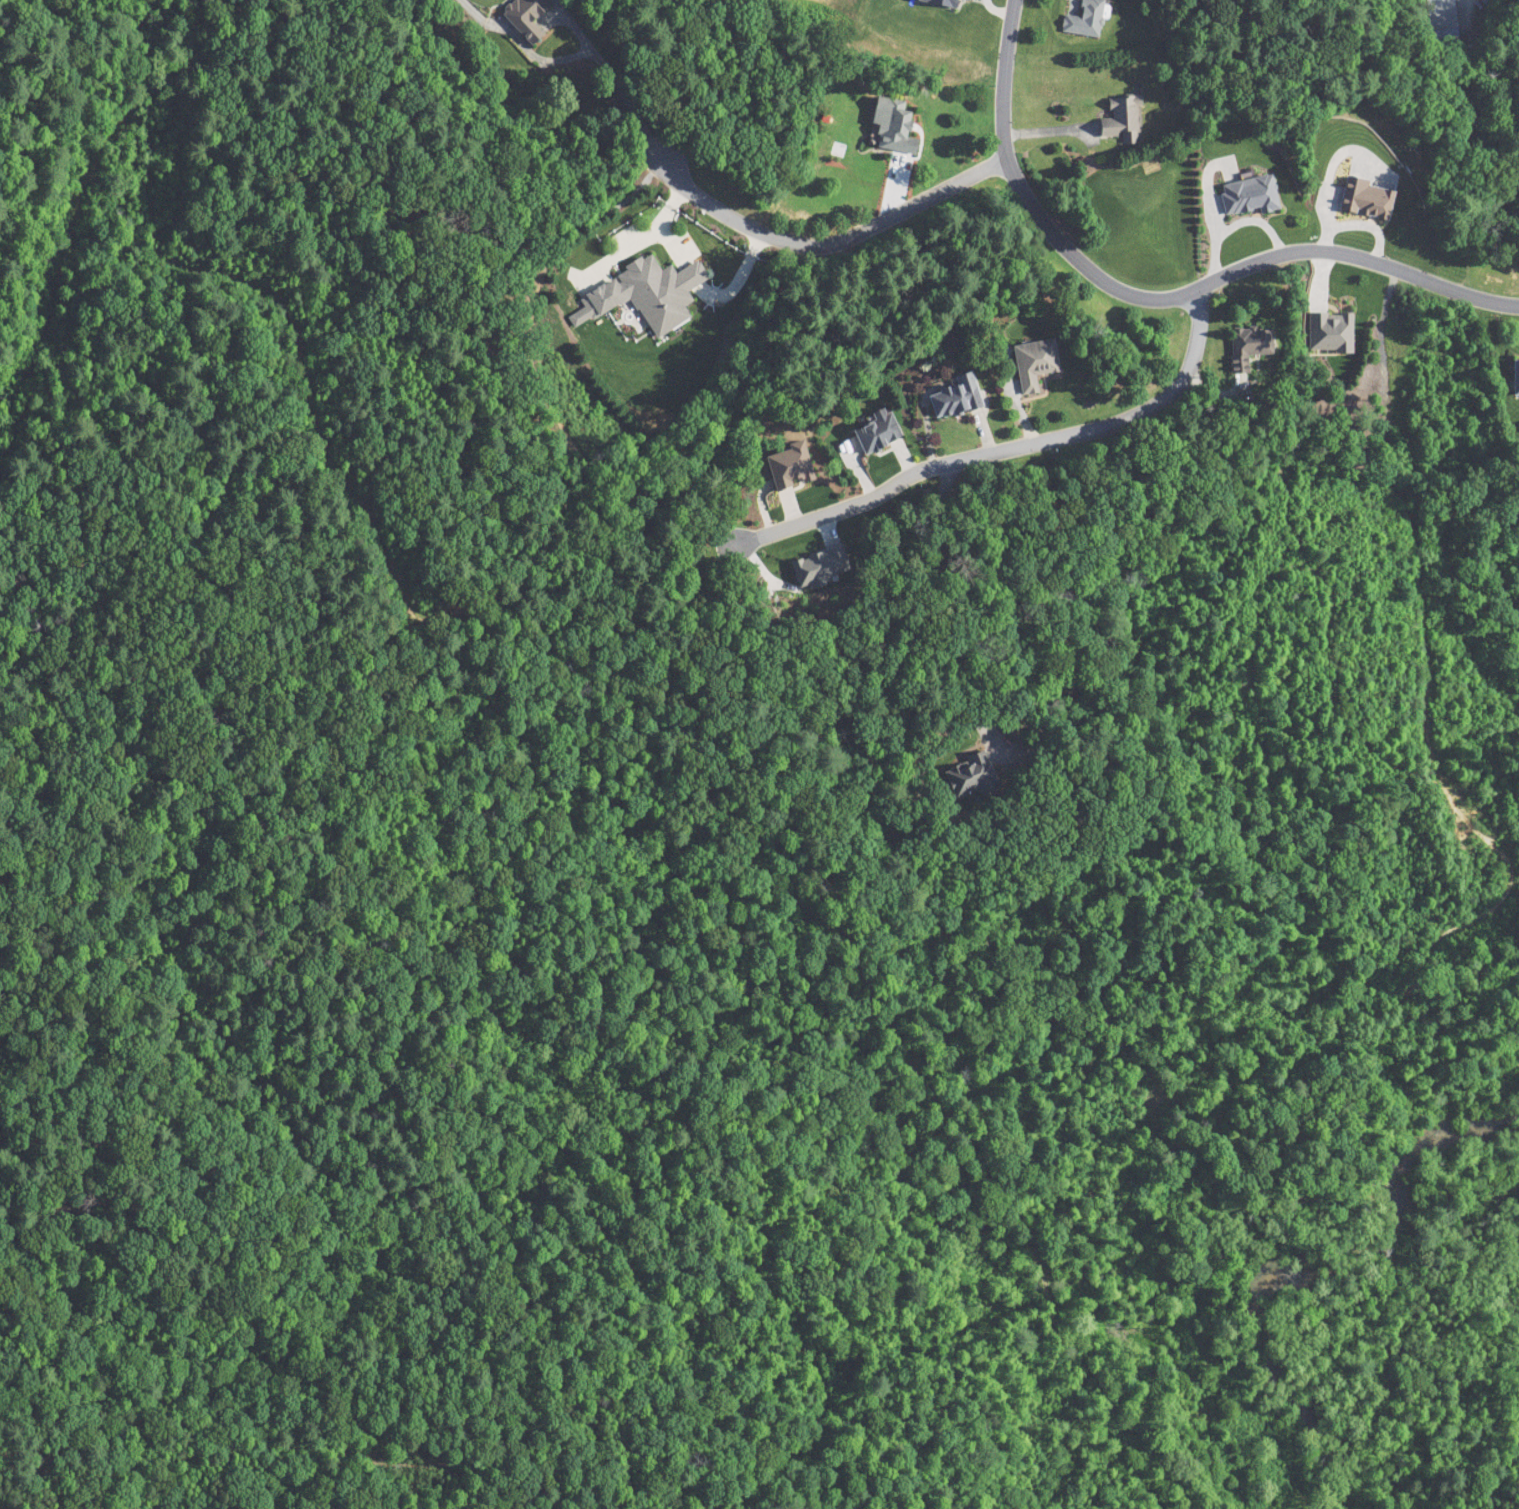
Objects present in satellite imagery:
building: (522, 16)
building: (1081, 18)
building: (1435, 18)
road: (613, 79)
building: (1118, 118)
building: (890, 124)
building: (1245, 194)
road: (822, 237)
building: (641, 292)
road: (1158, 294)
building: (1326, 330)
building: (1246, 345)
building: (1032, 362)
building: (1513, 376)
building: (953, 396)
building: (873, 430)
road: (1012, 445)
road: (946, 612)
building: (967, 776)

